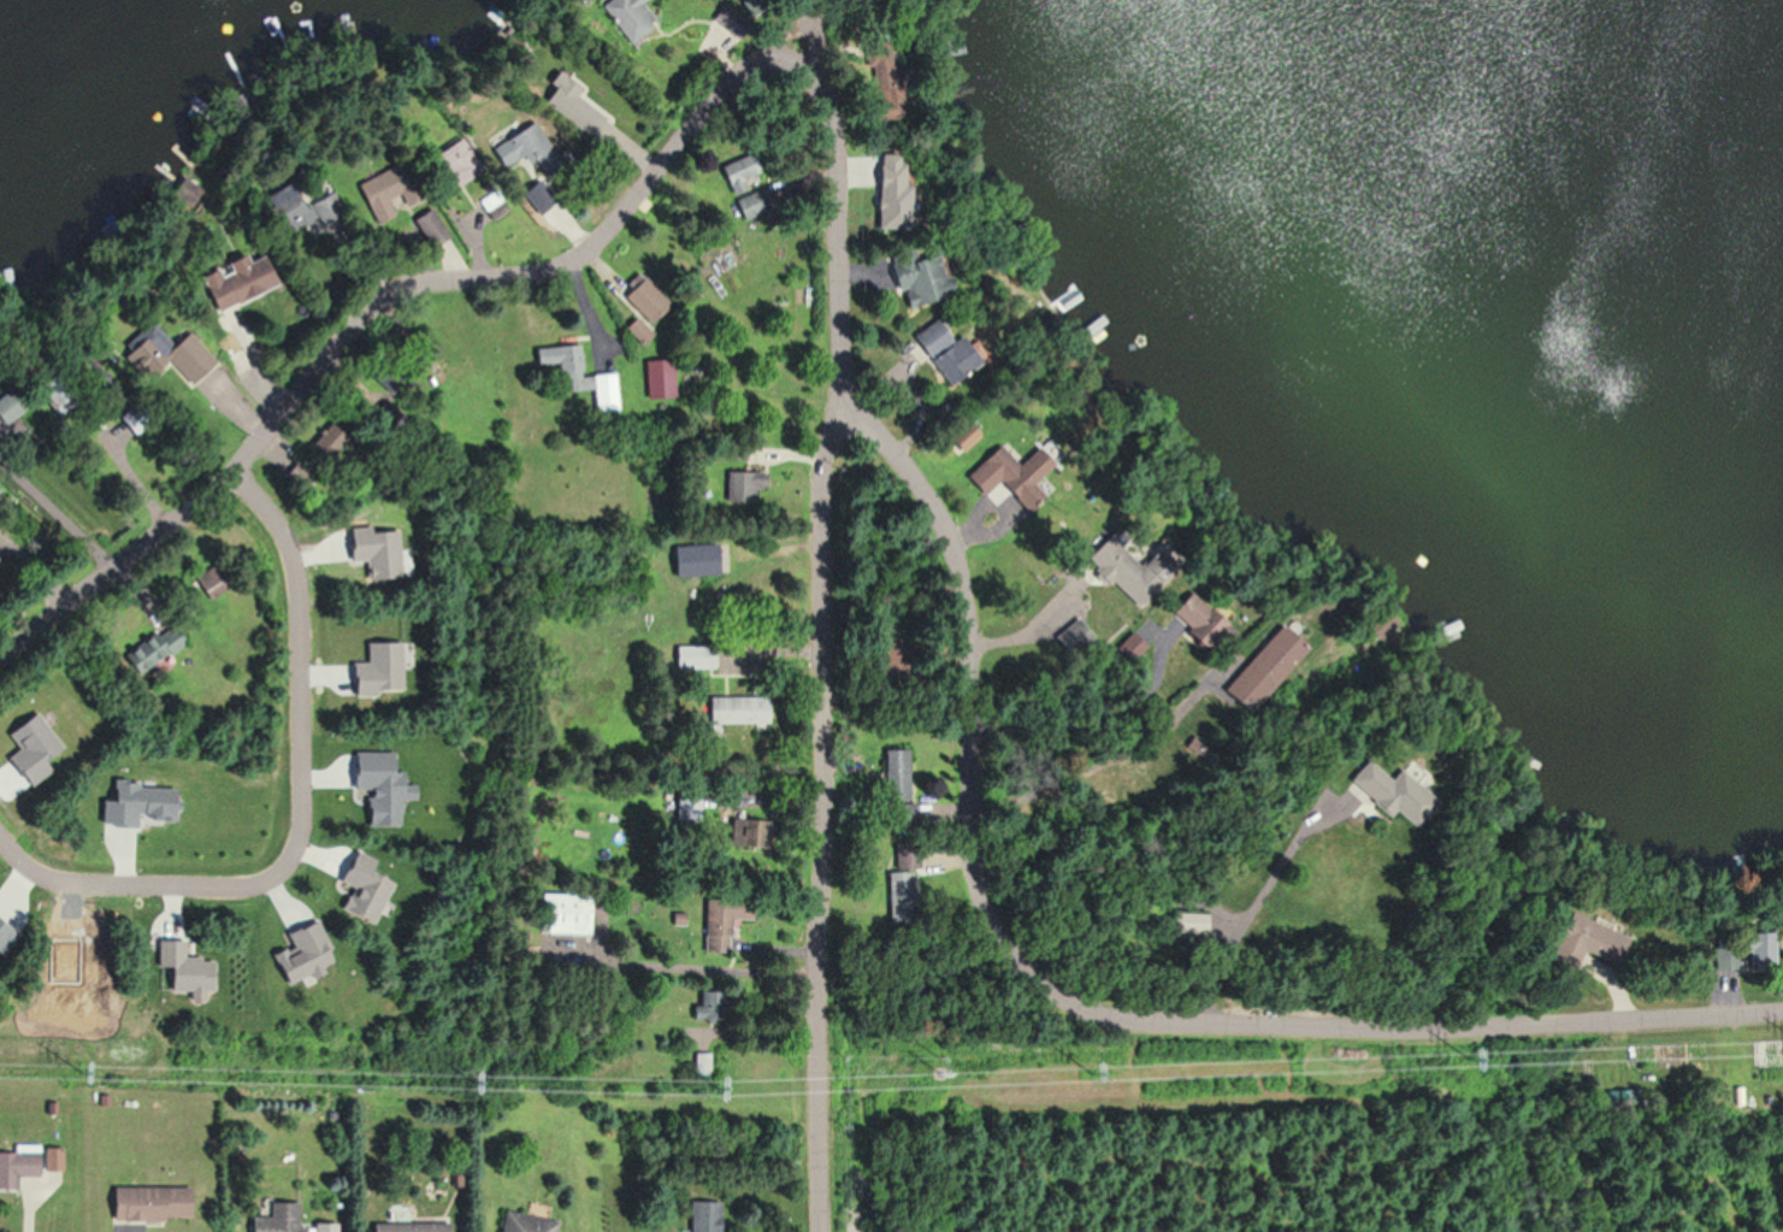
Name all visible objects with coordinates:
building: (628, 17)
building: (722, 28)
road: (778, 30)
building: (955, 49)
road: (839, 53)
building: (568, 104)
building: (450, 164)
building: (742, 178)
building: (397, 187)
building: (537, 196)
building: (290, 206)
building: (750, 206)
building: (432, 226)
building: (915, 278)
building: (234, 282)
road: (403, 285)
building: (648, 299)
building: (639, 329)
building: (167, 353)
building: (941, 353)
building: (562, 361)
building: (57, 384)
building: (604, 391)
building: (6, 411)
building: (960, 442)
building: (743, 485)
building: (697, 561)
building: (1, 567)
building: (1135, 572)
building: (212, 583)
building: (1206, 637)
building: (152, 652)
building: (696, 658)
building: (1268, 658)
building: (890, 661)
building: (738, 711)
building: (897, 776)
building: (1386, 794)
road: (821, 803)
building: (690, 808)
road: (297, 810)
road: (1253, 901)
building: (897, 904)
road: (986, 904)
building: (562, 914)
building: (716, 927)
building: (1576, 943)
building: (708, 1006)
building: (18, 1163)
building: (150, 1203)
building: (703, 1216)
building: (277, 1218)
building: (407, 1224)

